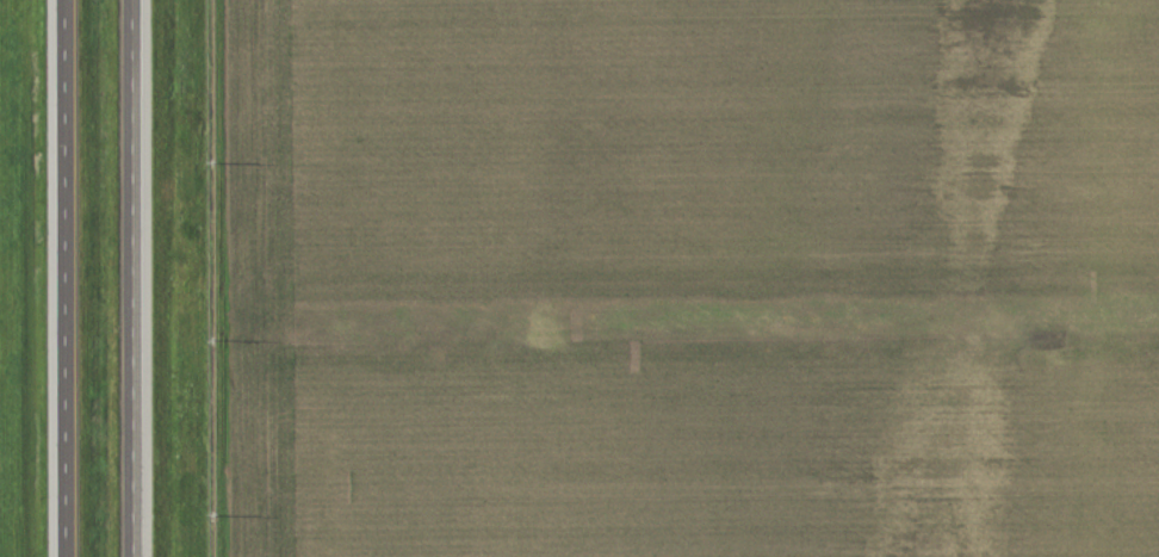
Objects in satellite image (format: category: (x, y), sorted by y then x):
road: (66, 278)
road: (134, 278)

